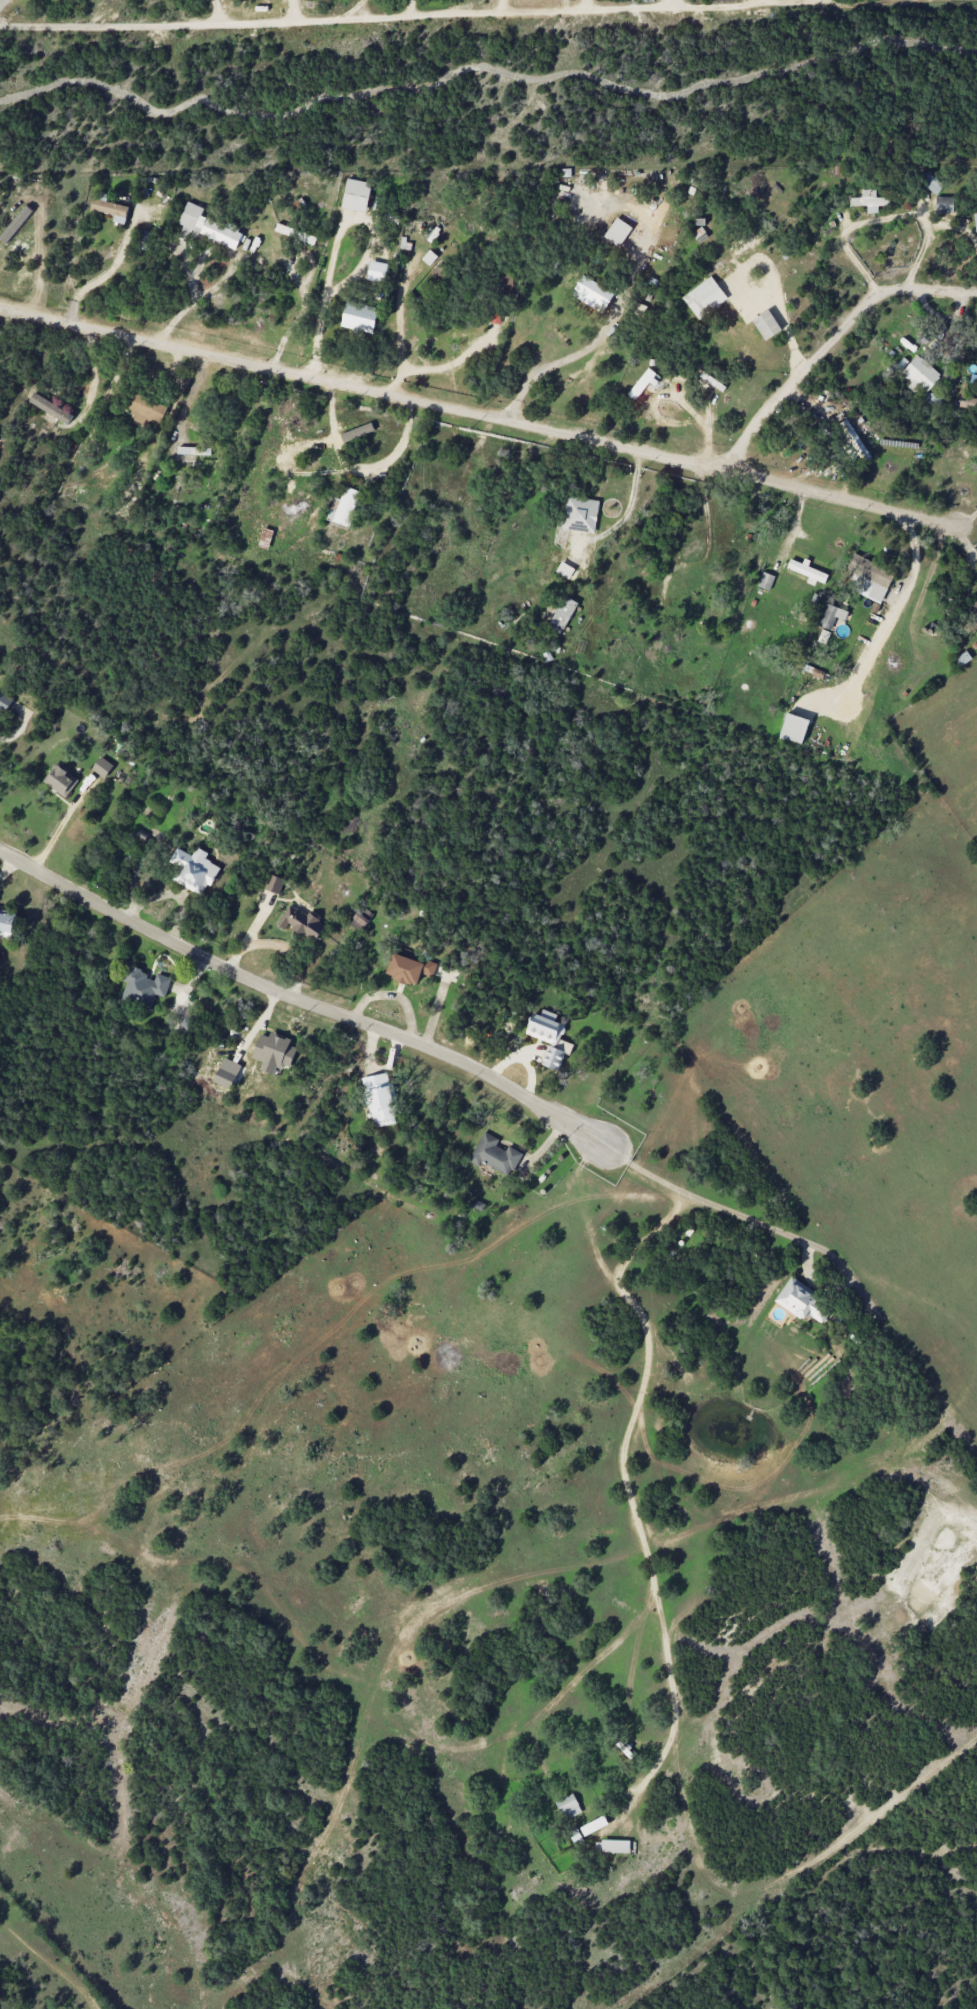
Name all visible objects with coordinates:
road: (587, 4)
road: (736, 4)
road: (564, 5)
road: (501, 6)
road: (338, 20)
road: (483, 67)
building: (931, 182)
building: (356, 195)
building: (869, 200)
building: (944, 204)
building: (110, 208)
road: (883, 219)
building: (975, 221)
building: (208, 228)
building: (618, 231)
building: (295, 233)
building: (144, 240)
road: (338, 241)
building: (377, 271)
road: (106, 273)
building: (436, 281)
building: (595, 291)
building: (704, 297)
road: (189, 302)
building: (495, 316)
road: (295, 317)
building: (359, 317)
building: (766, 324)
road: (398, 333)
road: (595, 342)
road: (832, 345)
road: (450, 365)
road: (92, 372)
building: (920, 374)
building: (641, 384)
building: (717, 385)
road: (189, 395)
building: (931, 398)
building: (967, 403)
building: (146, 407)
building: (51, 408)
road: (486, 417)
road: (703, 420)
building: (852, 442)
building: (194, 450)
road: (356, 470)
building: (131, 492)
building: (344, 507)
road: (628, 510)
building: (580, 514)
road: (965, 521)
building: (265, 538)
building: (565, 570)
building: (807, 572)
building: (869, 576)
building: (765, 580)
building: (973, 606)
building: (563, 612)
building: (831, 615)
road: (889, 615)
building: (962, 658)
building: (5, 701)
building: (794, 727)
building: (102, 767)
building: (61, 780)
road: (62, 822)
building: (194, 870)
building: (275, 884)
building: (361, 918)
building: (7, 921)
building: (303, 923)
building: (408, 968)
building: (143, 985)
road: (303, 1001)
building: (188, 1019)
building: (549, 1037)
building: (274, 1052)
building: (227, 1073)
building: (380, 1099)
building: (494, 1155)
road: (645, 1168)
building: (477, 1204)
road: (748, 1218)
building: (803, 1301)
road: (629, 1490)
building: (568, 1806)
building: (612, 1846)

